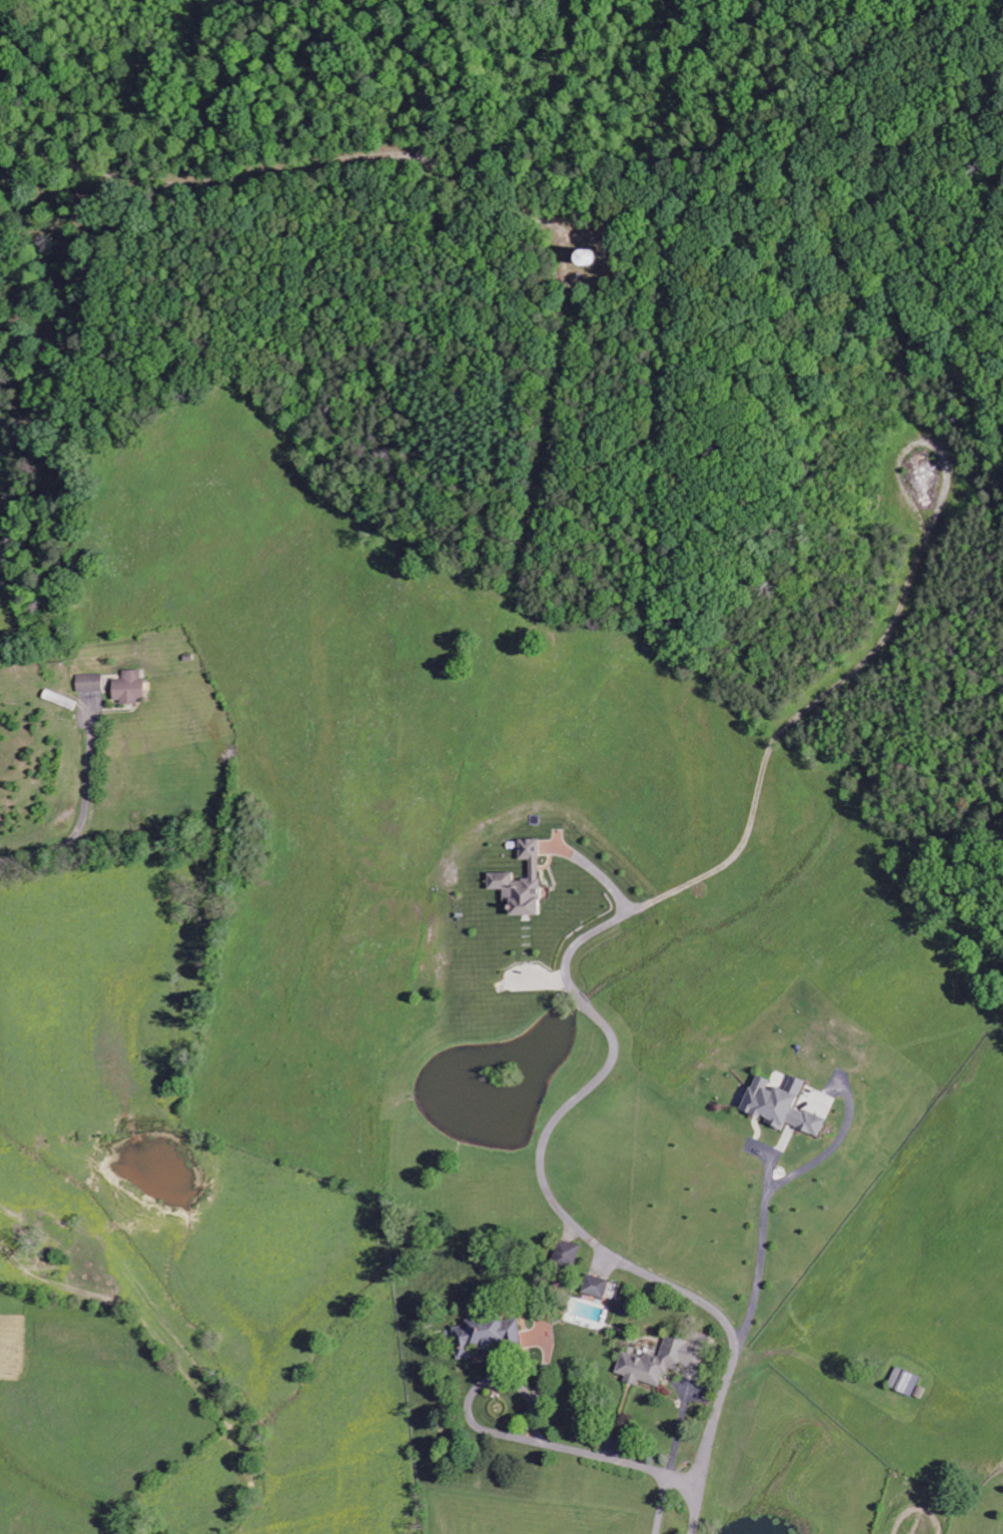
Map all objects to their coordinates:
building: (585, 254)
building: (89, 682)
building: (128, 686)
building: (521, 882)
building: (781, 1105)
building: (565, 1252)
building: (595, 1285)
building: (486, 1336)
building: (663, 1359)
building: (905, 1381)

